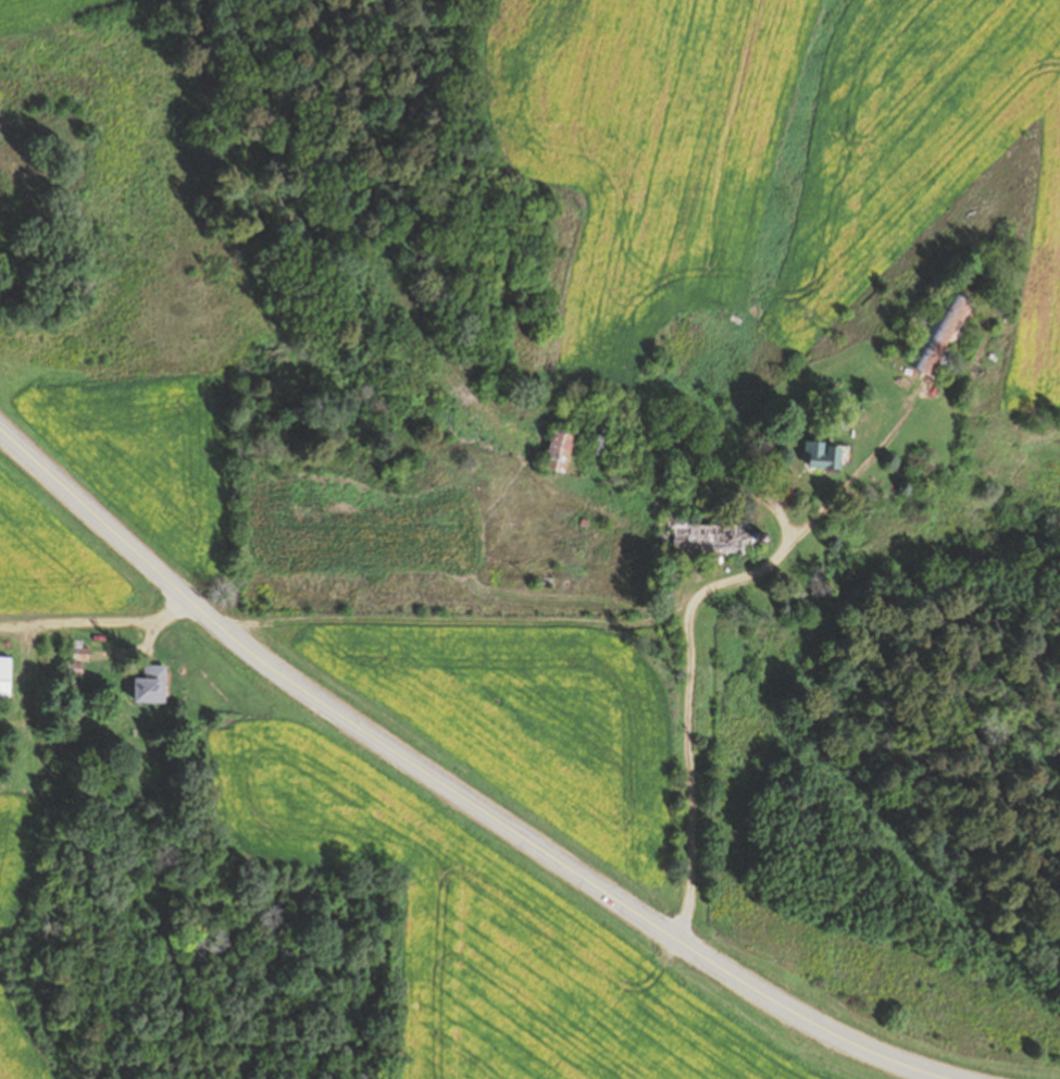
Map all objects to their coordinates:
building: (944, 335)
building: (602, 436)
building: (561, 452)
building: (826, 457)
building: (715, 539)
road: (101, 617)
building: (5, 681)
building: (152, 686)
road: (687, 743)
road: (447, 789)

